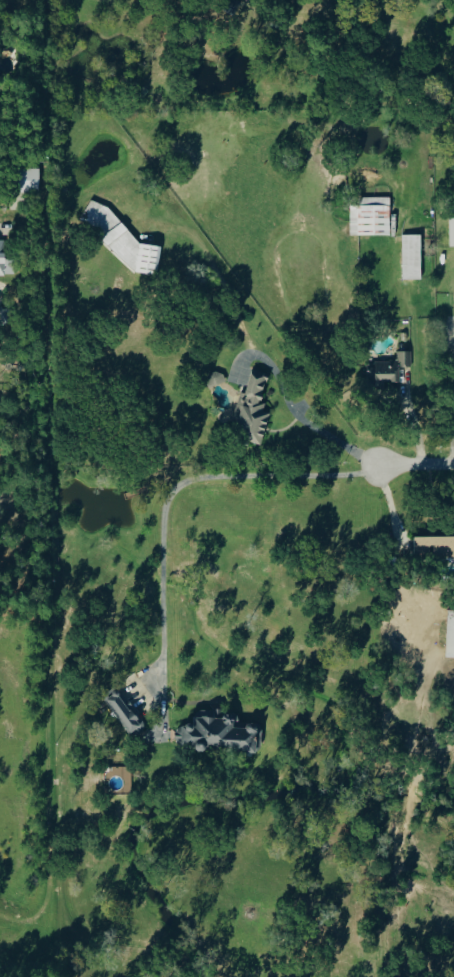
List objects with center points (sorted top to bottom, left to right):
building: (30, 179)
building: (372, 216)
building: (452, 231)
building: (413, 256)
building: (7, 261)
building: (6, 315)
building: (391, 368)
building: (216, 378)
building: (255, 409)
road: (453, 413)
road: (303, 416)
road: (416, 469)
road: (193, 478)
building: (435, 546)
building: (450, 634)
building: (125, 711)
building: (221, 733)

